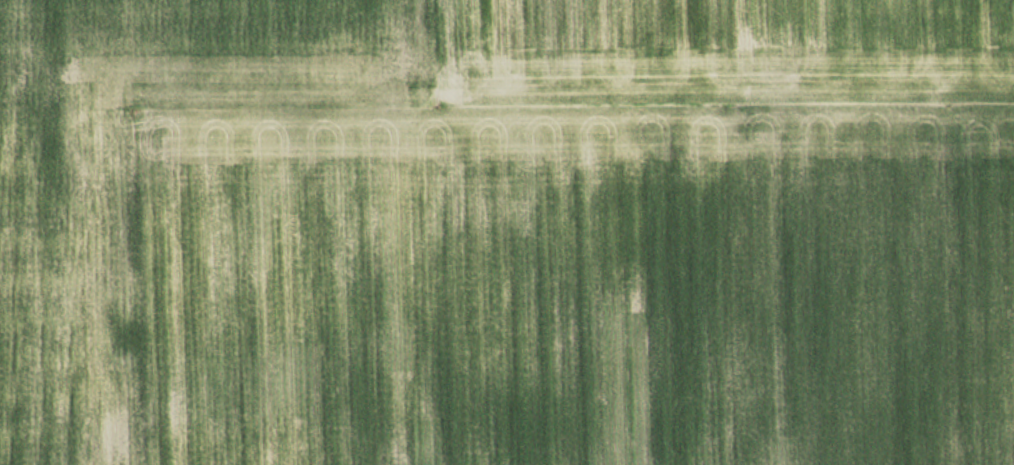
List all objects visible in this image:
crop: (336, 191)
crop: (729, 285)

